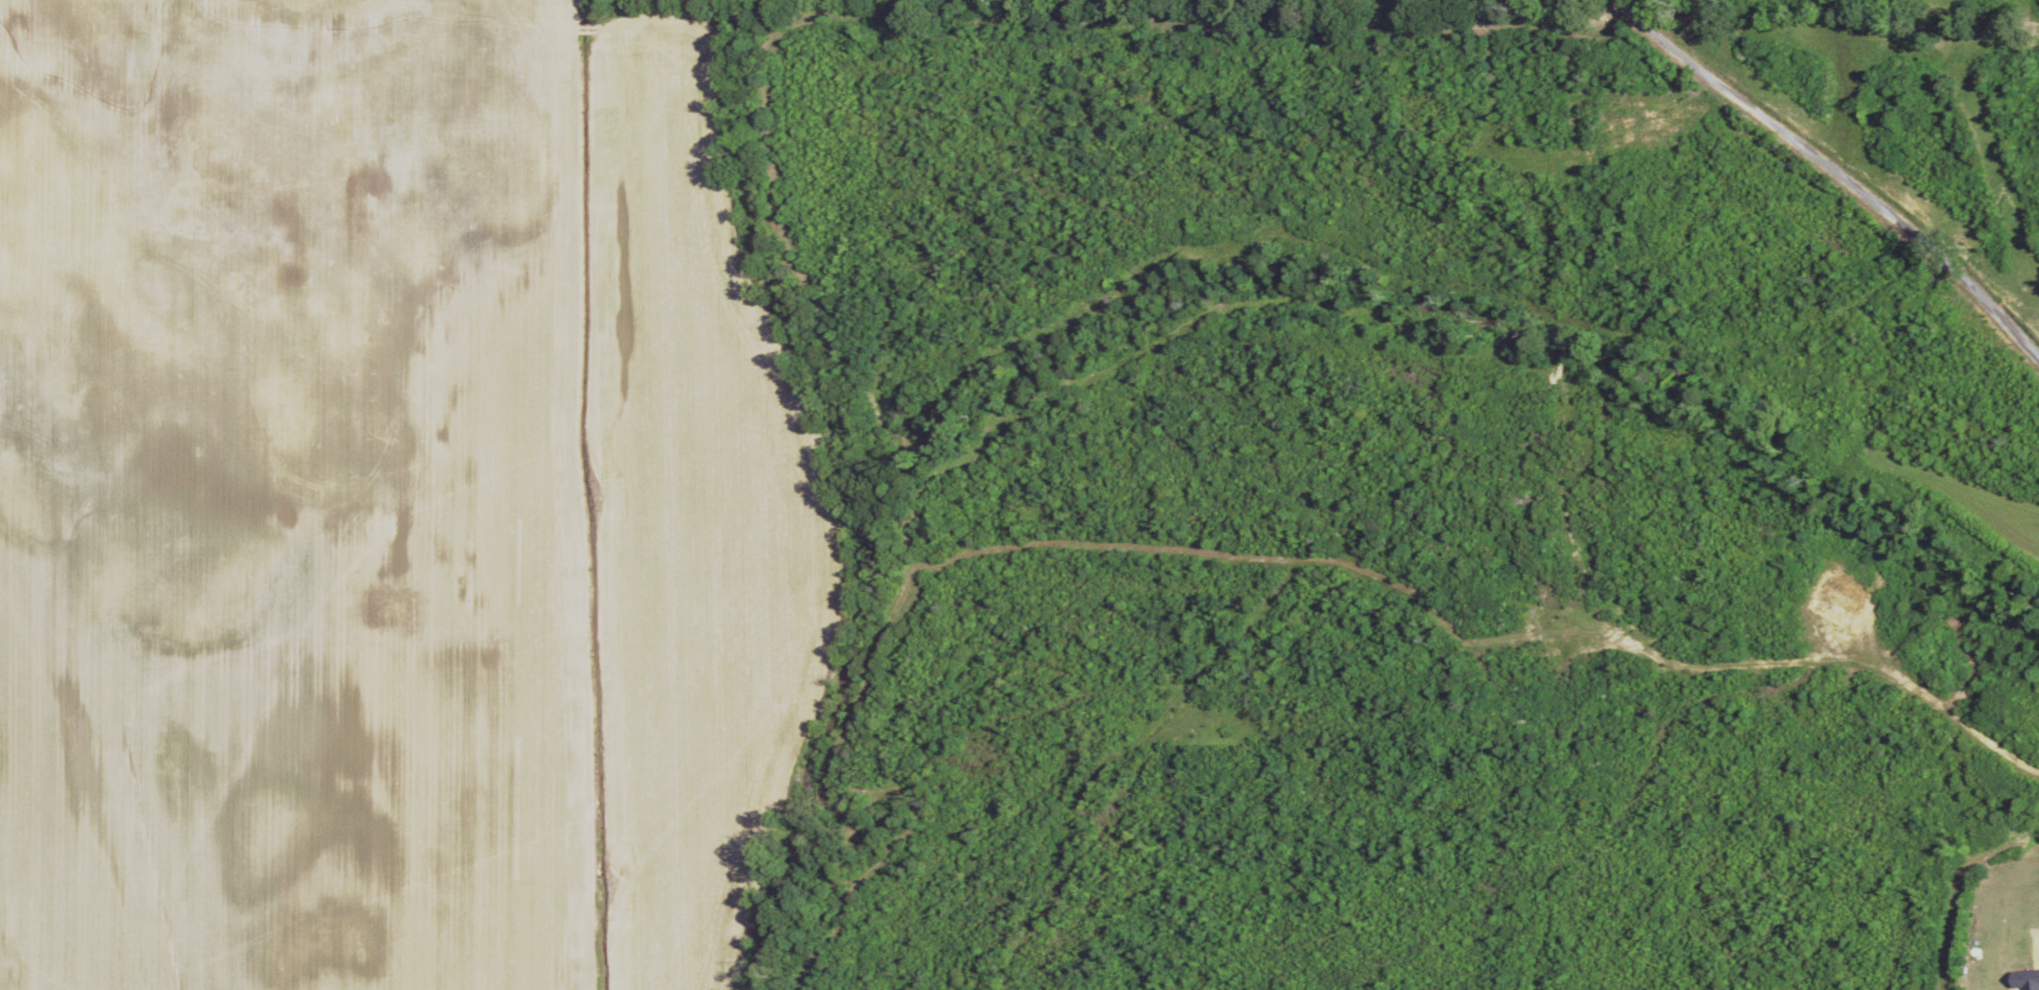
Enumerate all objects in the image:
road: (1846, 178)

